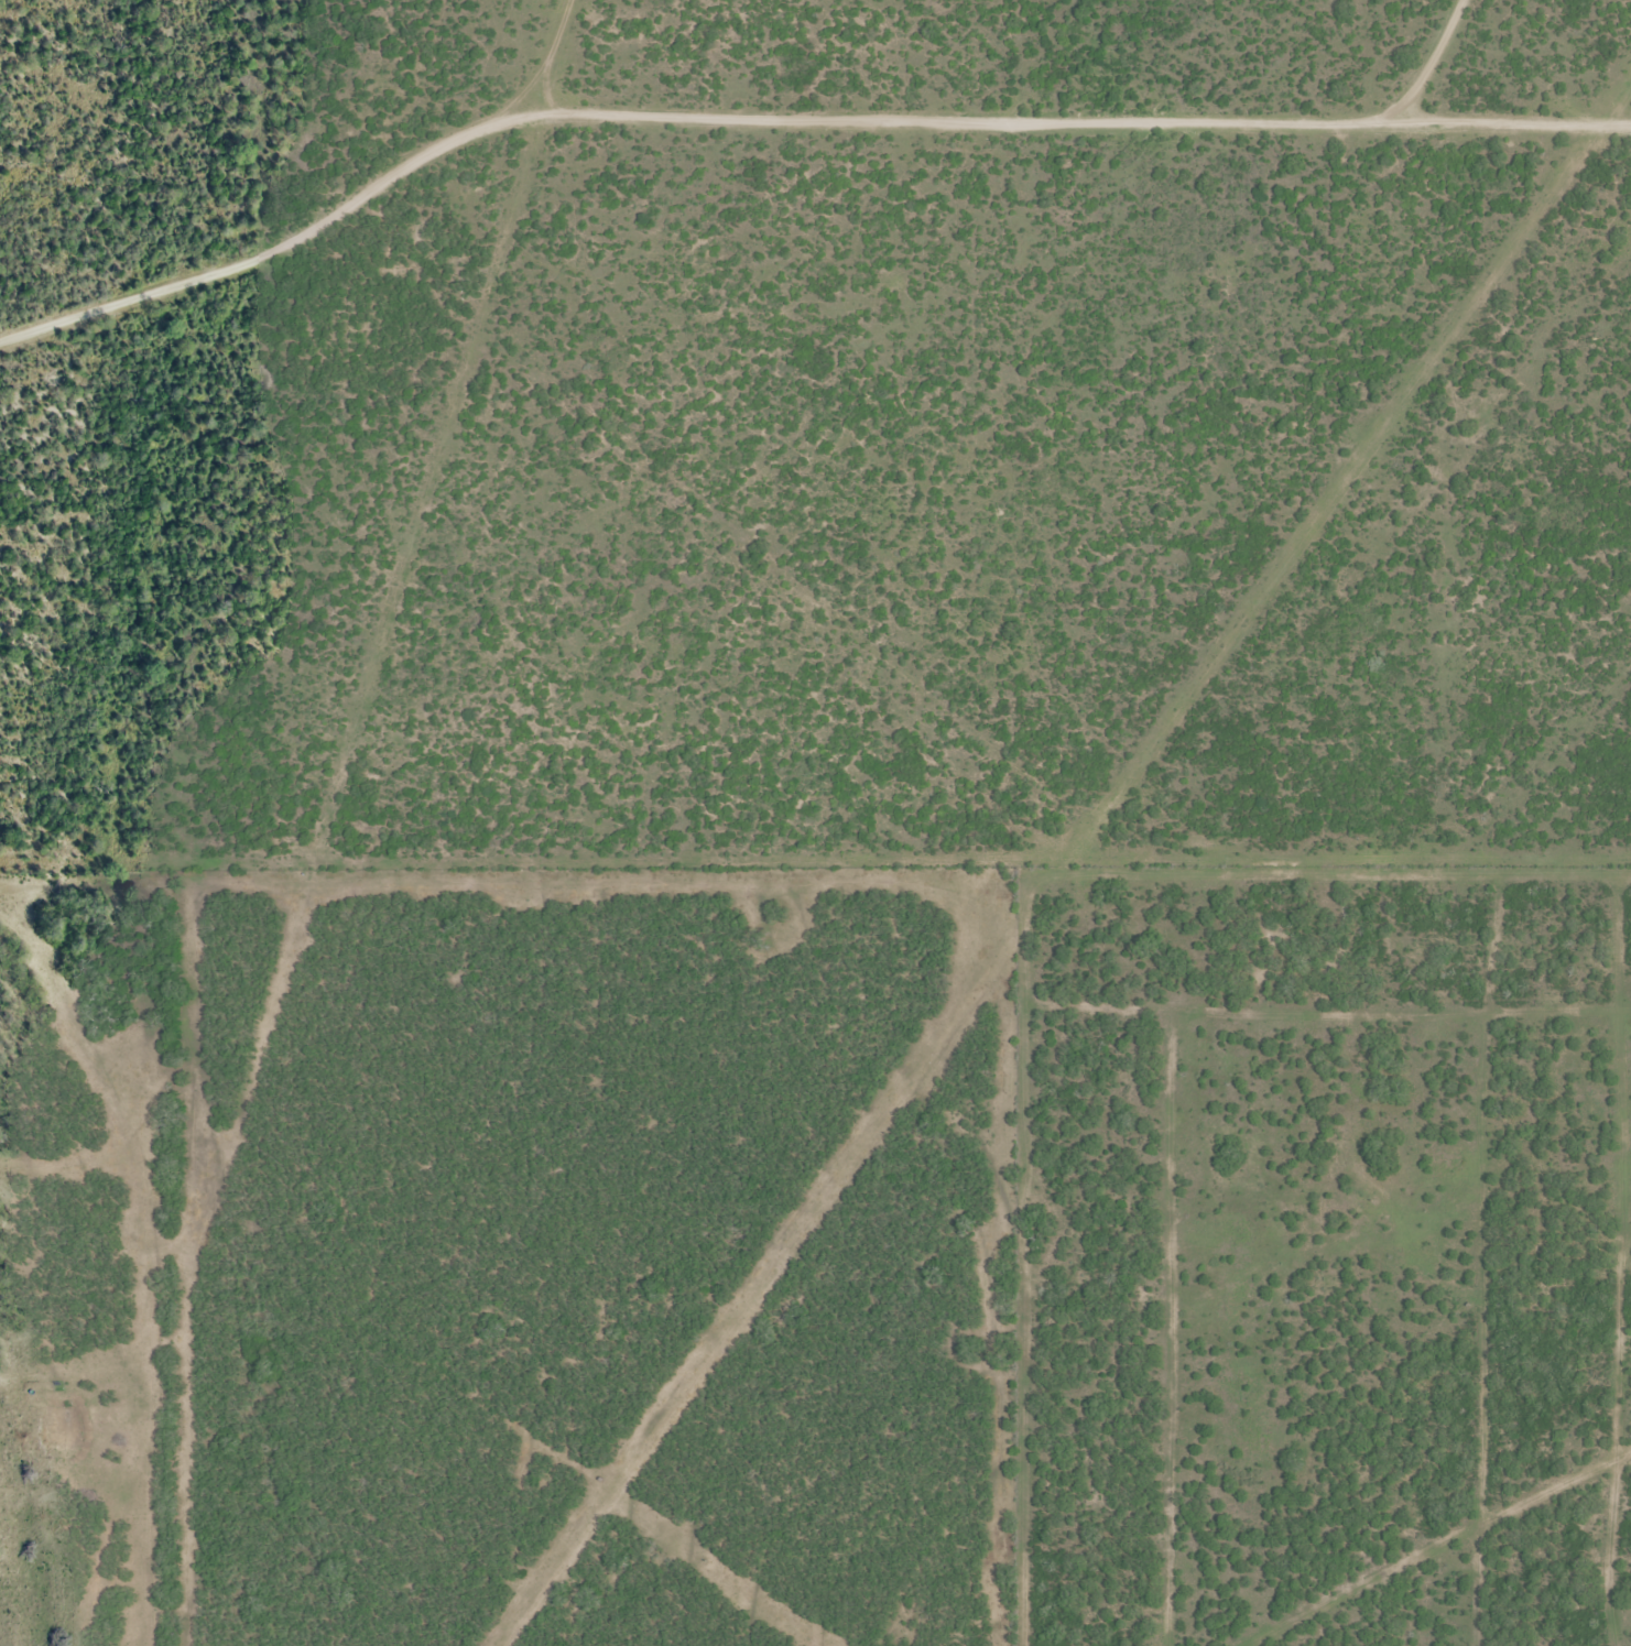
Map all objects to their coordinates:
road: (1428, 57)
road: (675, 111)
road: (1515, 116)

